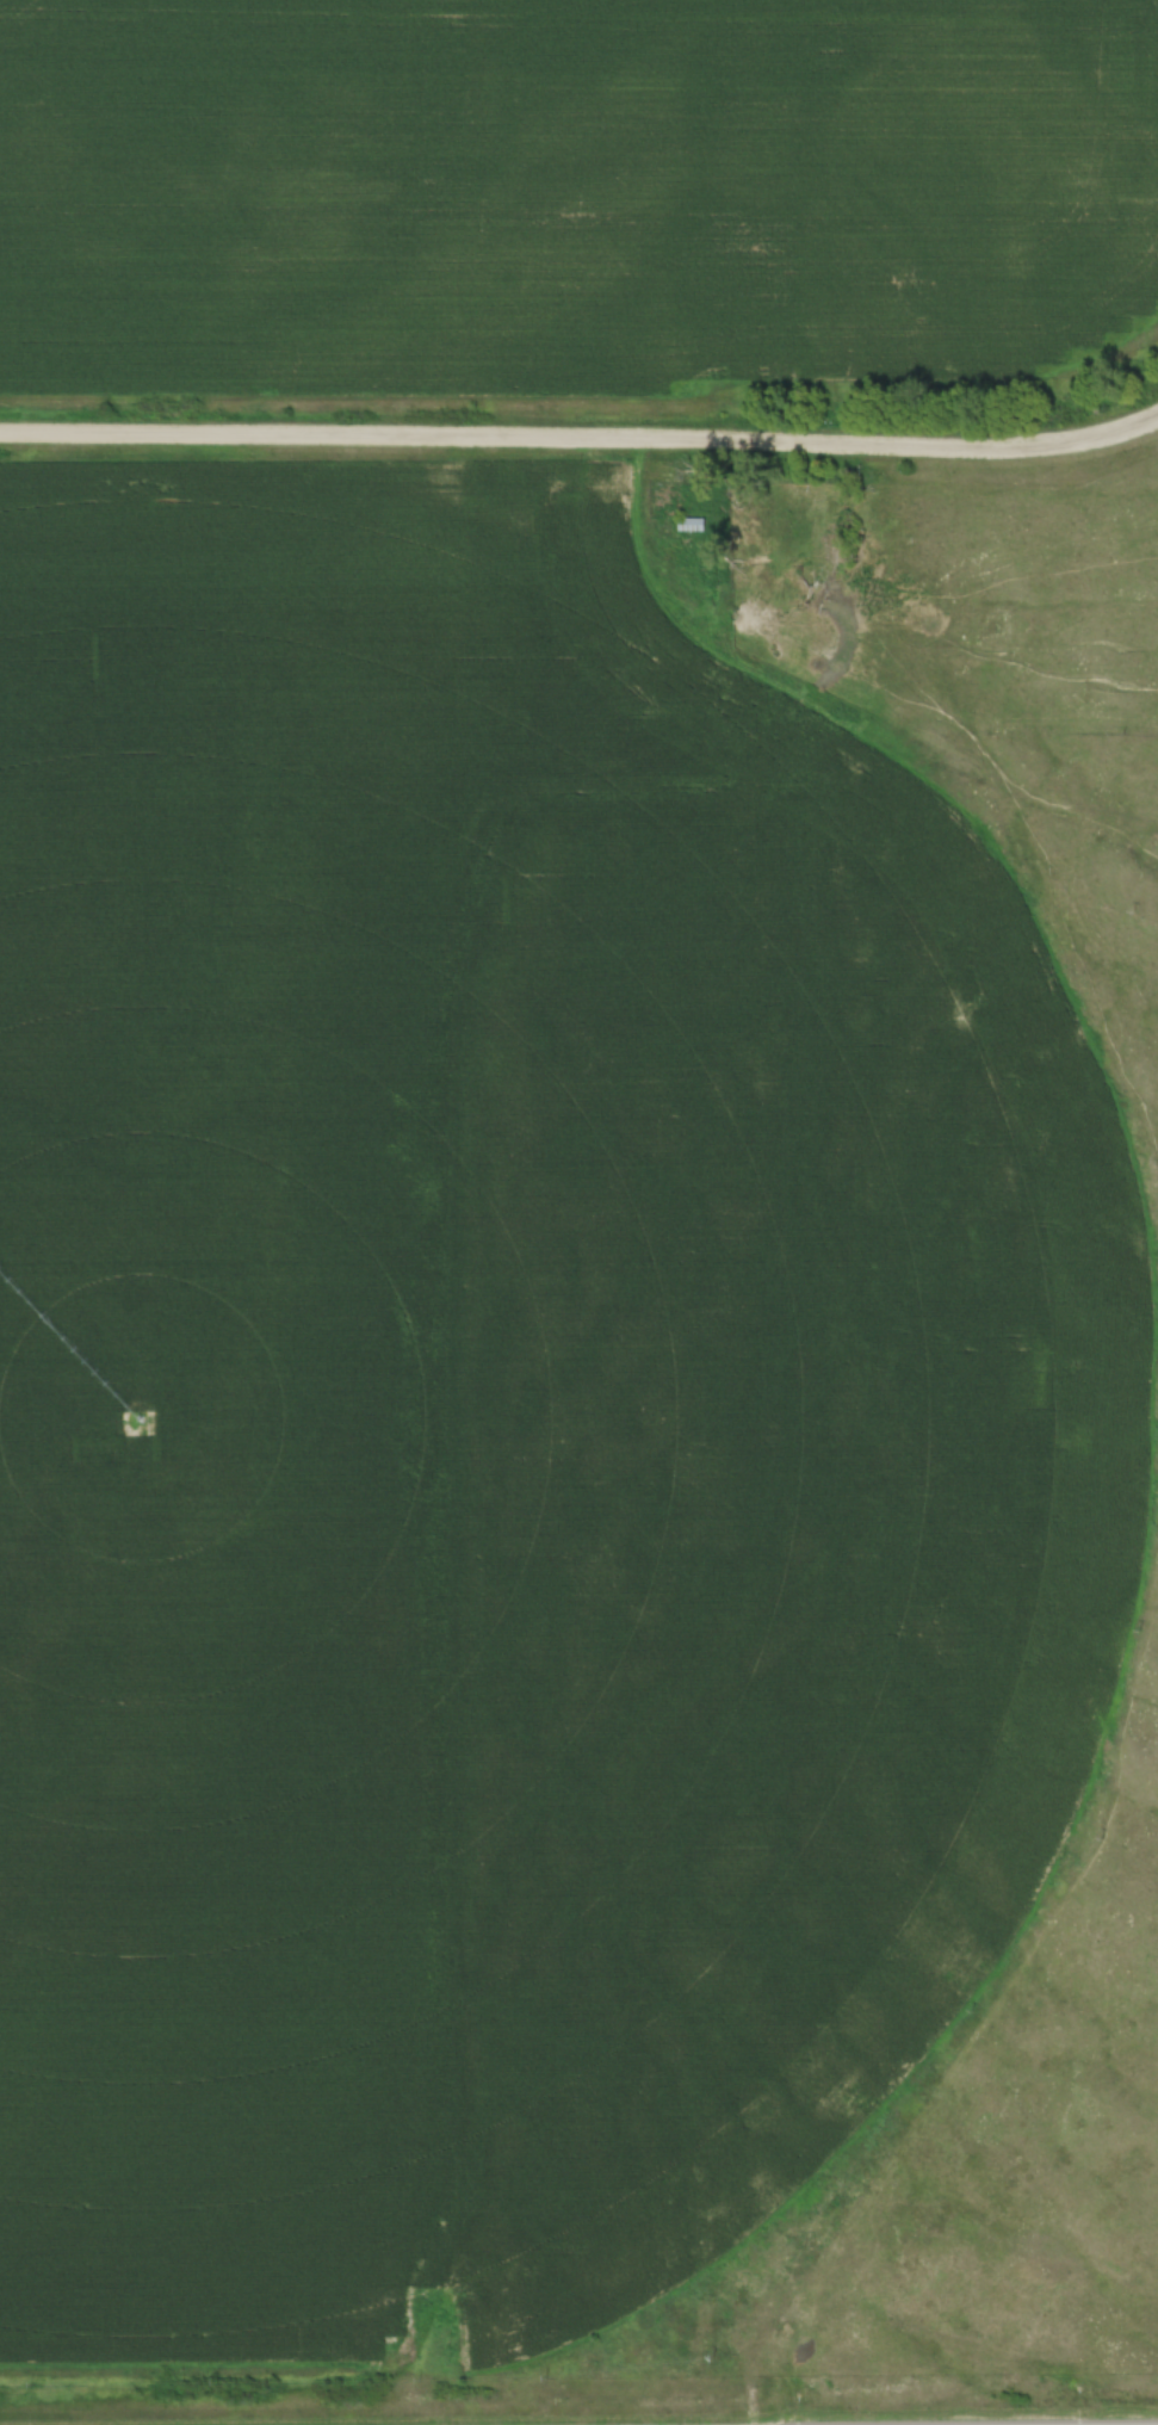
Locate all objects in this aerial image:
road: (580, 438)
building: (689, 524)

